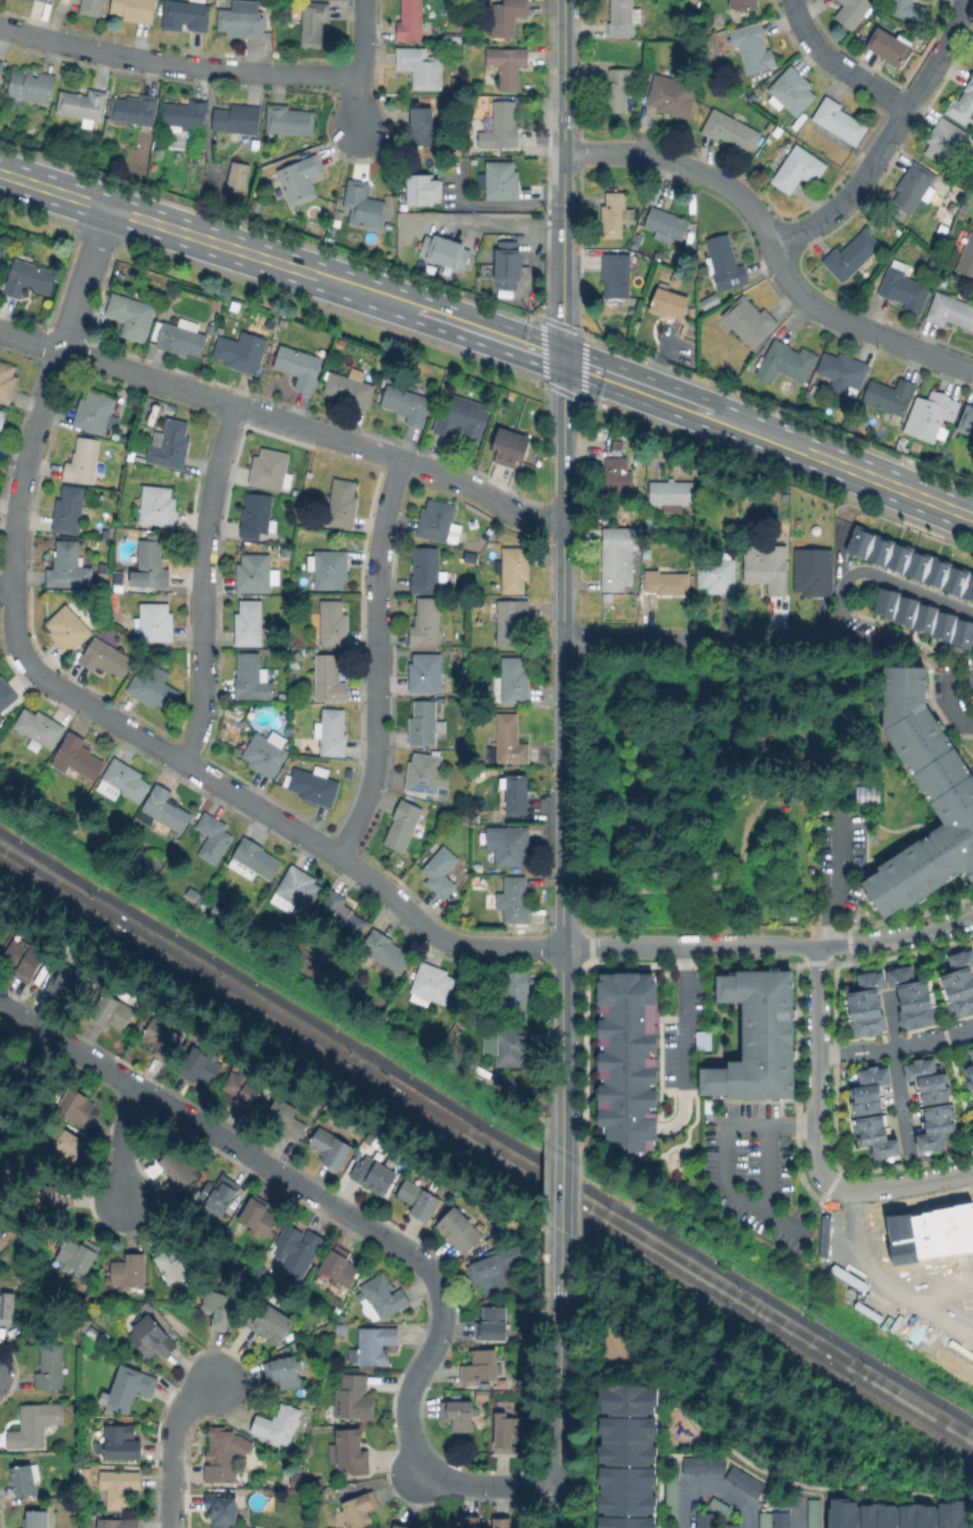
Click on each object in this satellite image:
building: (42, 0)
building: (46, 0)
building: (744, 3)
building: (91, 7)
building: (135, 9)
building: (909, 9)
building: (852, 12)
building: (186, 15)
building: (508, 16)
building: (623, 17)
building: (411, 20)
building: (242, 22)
building: (314, 23)
building: (460, 37)
building: (890, 45)
building: (753, 47)
road: (563, 59)
road: (177, 62)
road: (835, 64)
building: (1, 65)
building: (509, 65)
building: (421, 66)
road: (360, 67)
building: (455, 81)
building: (32, 85)
building: (619, 90)
building: (791, 90)
building: (752, 95)
building: (671, 97)
building: (83, 105)
building: (963, 105)
building: (135, 109)
building: (187, 114)
building: (289, 119)
building: (839, 120)
building: (238, 122)
building: (500, 126)
building: (424, 127)
building: (731, 130)
road: (884, 138)
building: (946, 141)
building: (195, 145)
building: (254, 154)
building: (798, 169)
building: (238, 176)
building: (301, 178)
building: (502, 180)
building: (914, 187)
building: (422, 188)
building: (255, 203)
building: (364, 204)
building: (615, 214)
building: (972, 219)
building: (666, 223)
road: (499, 224)
road: (563, 239)
road: (771, 246)
building: (444, 251)
building: (852, 255)
building: (967, 257)
building: (725, 263)
building: (508, 265)
building: (616, 275)
building: (28, 278)
building: (943, 281)
building: (903, 287)
building: (711, 301)
building: (668, 303)
building: (950, 310)
building: (164, 311)
building: (131, 314)
building: (750, 320)
road: (490, 335)
building: (180, 336)
building: (242, 351)
building: (761, 359)
traffic signals: (563, 360)
building: (787, 362)
building: (299, 367)
building: (843, 371)
building: (7, 381)
building: (351, 388)
building: (815, 388)
road: (46, 393)
building: (892, 397)
building: (409, 403)
building: (96, 413)
building: (930, 415)
building: (459, 416)
building: (2, 419)
building: (967, 420)
road: (283, 423)
building: (170, 444)
building: (509, 448)
building: (615, 448)
building: (83, 461)
building: (271, 470)
building: (616, 480)
building: (672, 492)
building: (785, 496)
building: (342, 504)
building: (156, 506)
building: (71, 510)
building: (256, 515)
building: (436, 519)
building: (649, 519)
building: (619, 555)
building: (151, 564)
building: (913, 564)
building: (68, 567)
building: (329, 568)
building: (767, 568)
building: (514, 569)
building: (426, 572)
building: (813, 572)
building: (254, 573)
building: (717, 573)
road: (882, 578)
road: (7, 583)
building: (667, 583)
road: (200, 585)
building: (608, 596)
building: (113, 601)
building: (922, 619)
building: (426, 622)
building: (512, 622)
building: (154, 623)
building: (249, 624)
building: (333, 625)
building: (68, 629)
road: (736, 636)
road: (562, 653)
building: (106, 657)
road: (375, 660)
road: (928, 668)
building: (428, 673)
building: (252, 678)
building: (327, 679)
building: (513, 680)
road: (959, 680)
building: (152, 689)
building: (5, 700)
road: (952, 708)
building: (423, 723)
building: (39, 728)
building: (332, 732)
building: (508, 741)
building: (267, 753)
building: (77, 756)
building: (427, 774)
building: (123, 781)
building: (313, 784)
rooftop solar panel: (419, 786)
building: (514, 794)
building: (862, 794)
building: (951, 795)
road: (253, 806)
building: (164, 809)
building: (405, 825)
building: (214, 838)
building: (508, 844)
building: (254, 860)
building: (477, 867)
building: (441, 871)
road: (839, 881)
building: (299, 887)
building: (515, 899)
building: (340, 914)
building: (2, 926)
road: (898, 937)
building: (972, 945)
road: (691, 946)
building: (386, 952)
building: (23, 960)
building: (958, 982)
building: (431, 984)
building: (74, 988)
building: (515, 994)
building: (911, 996)
building: (867, 1004)
building: (112, 1010)
road: (688, 1017)
road: (561, 1029)
building: (164, 1037)
building: (759, 1039)
building: (703, 1040)
building: (512, 1046)
road: (895, 1048)
building: (971, 1054)
building: (625, 1058)
building: (201, 1065)
road: (816, 1069)
road: (896, 1070)
building: (971, 1072)
building: (23, 1075)
building: (244, 1088)
building: (265, 1099)
building: (932, 1104)
building: (77, 1107)
building: (712, 1107)
building: (874, 1114)
building: (285, 1119)
road: (486, 1125)
building: (371, 1138)
railway: (486, 1142)
road: (123, 1146)
building: (331, 1148)
building: (67, 1152)
railway: (486, 1155)
road: (726, 1159)
building: (176, 1161)
road: (771, 1169)
road: (562, 1171)
building: (373, 1174)
building: (2, 1180)
road: (904, 1186)
building: (218, 1194)
building: (54, 1195)
building: (419, 1199)
building: (258, 1215)
road: (364, 1226)
building: (460, 1229)
building: (2, 1235)
building: (299, 1251)
building: (77, 1255)
building: (173, 1262)
building: (340, 1267)
building: (496, 1267)
building: (129, 1271)
road: (883, 1280)
road: (955, 1288)
road: (866, 1291)
building: (384, 1296)
building: (7, 1307)
building: (219, 1309)
building: (270, 1322)
building: (492, 1324)
building: (340, 1329)
building: (92, 1333)
building: (291, 1336)
building: (528, 1336)
building: (150, 1338)
building: (375, 1345)
building: (482, 1366)
building: (51, 1368)
building: (284, 1371)
road: (559, 1379)
building: (129, 1388)
building: (482, 1394)
building: (354, 1398)
building: (626, 1399)
building: (458, 1414)
building: (277, 1424)
building: (34, 1425)
building: (507, 1435)
building: (625, 1439)
building: (122, 1443)
road: (171, 1445)
building: (351, 1451)
road: (738, 1455)
building: (221, 1459)
building: (700, 1464)
road: (419, 1465)
building: (24, 1480)
building: (741, 1480)
building: (119, 1487)
building: (624, 1489)
building: (669, 1493)
road: (728, 1497)
building: (221, 1508)
road: (689, 1508)
building: (360, 1509)
building: (811, 1513)
building: (893, 1514)
road: (799, 1517)
building: (37, 1519)
building: (779, 1519)
building: (702, 1520)
building: (762, 1521)
building: (623, 1522)
building: (462, 1523)
building: (502, 1523)
building: (118, 1524)
building: (400, 1524)
building: (729, 1525)
building: (266, 1527)
building: (391, 1527)
building: (667, 1527)

